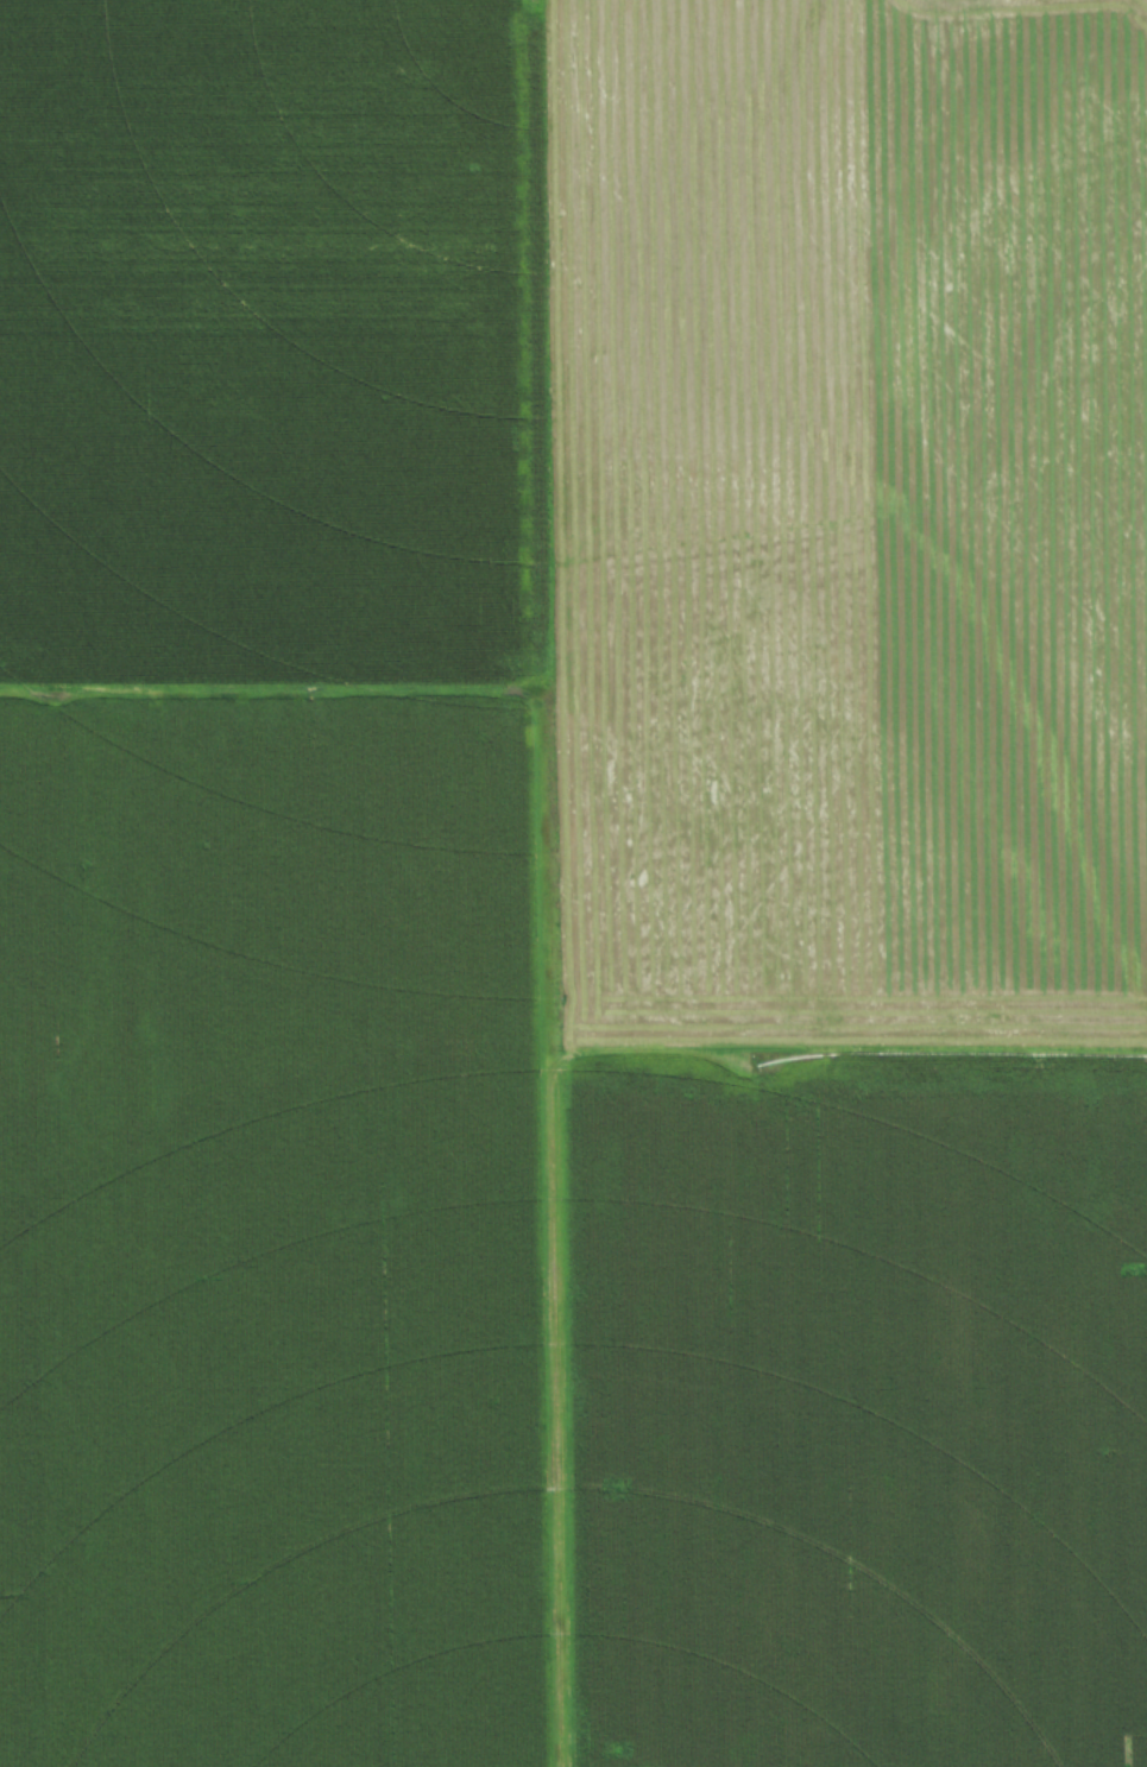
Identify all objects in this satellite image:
crop: (573, 883)

